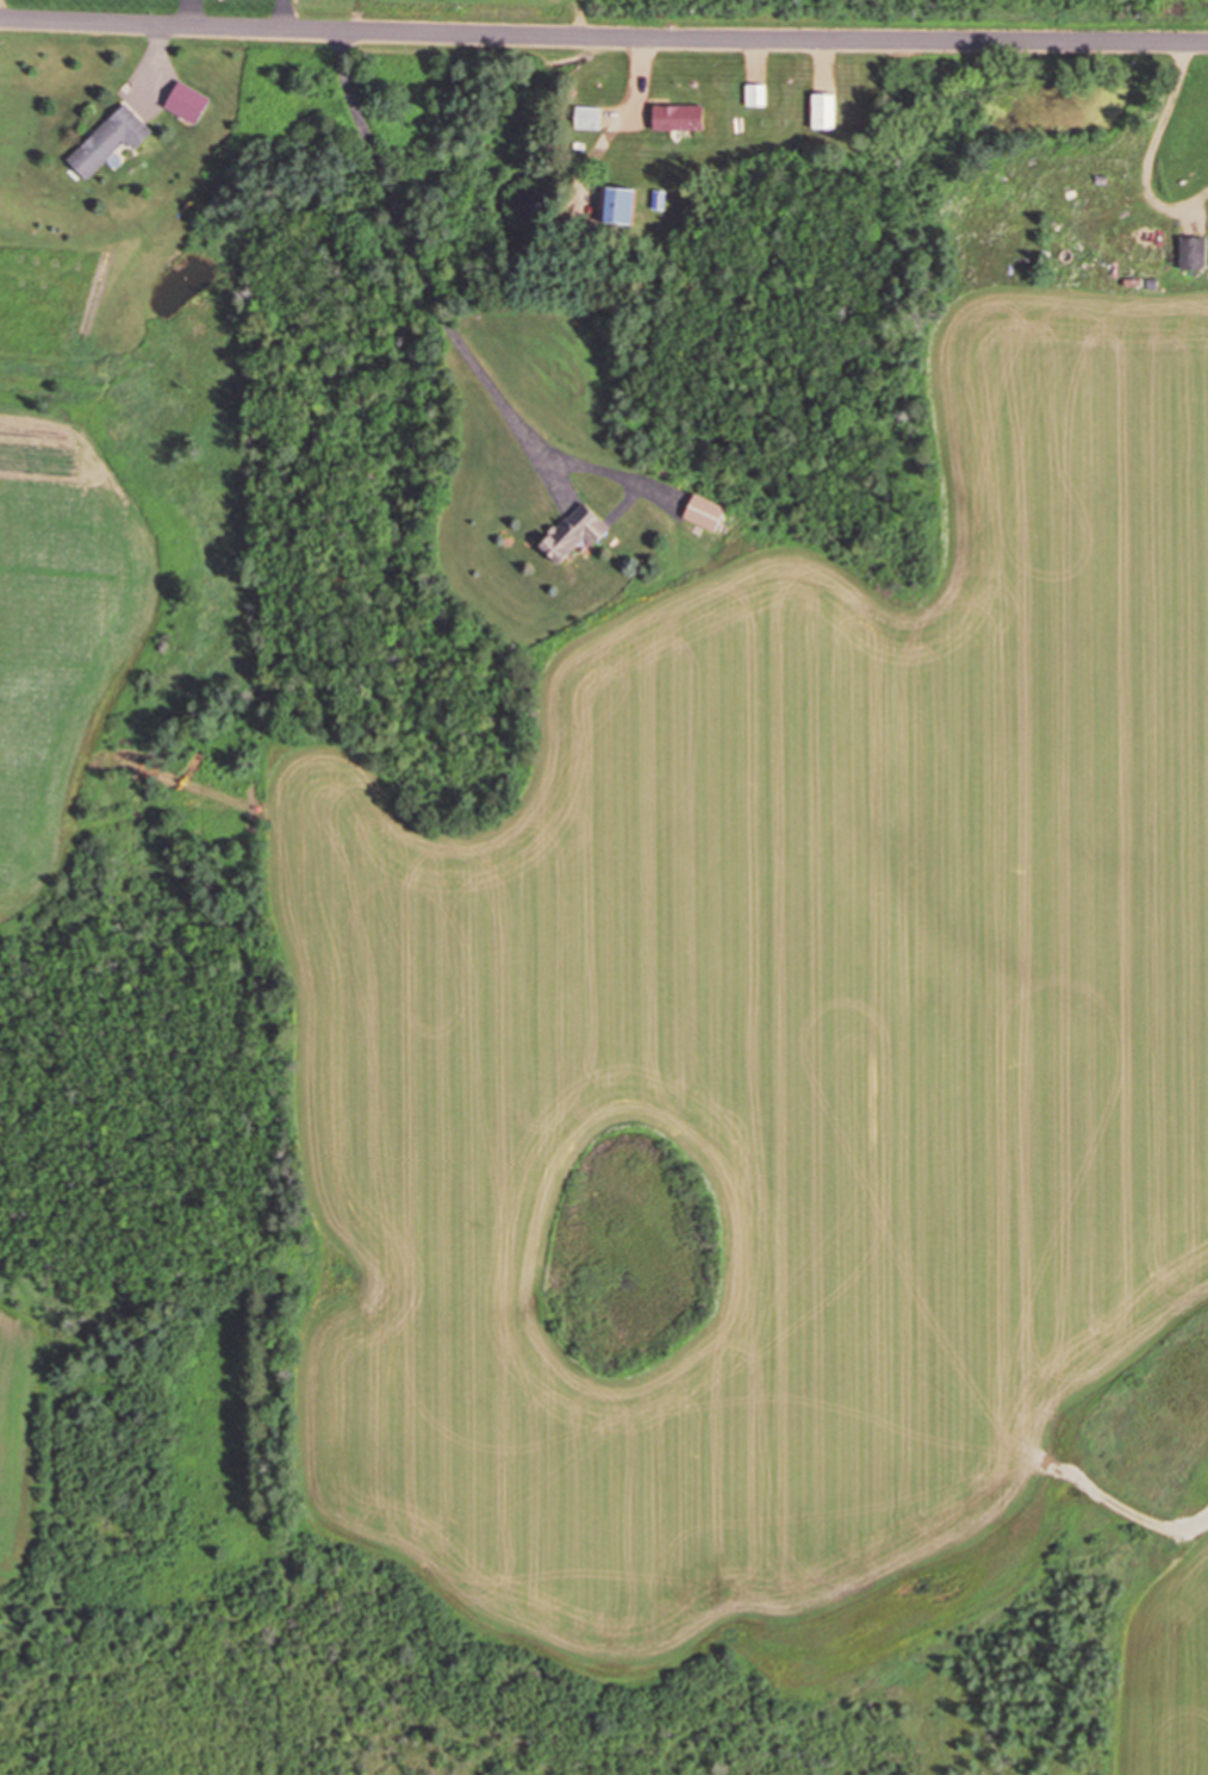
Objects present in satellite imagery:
road: (603, 36)
building: (753, 93)
building: (185, 101)
building: (822, 110)
building: (675, 116)
building: (587, 117)
building: (107, 139)
building: (1144, 243)
building: (1191, 251)
building: (703, 511)
building: (573, 532)

